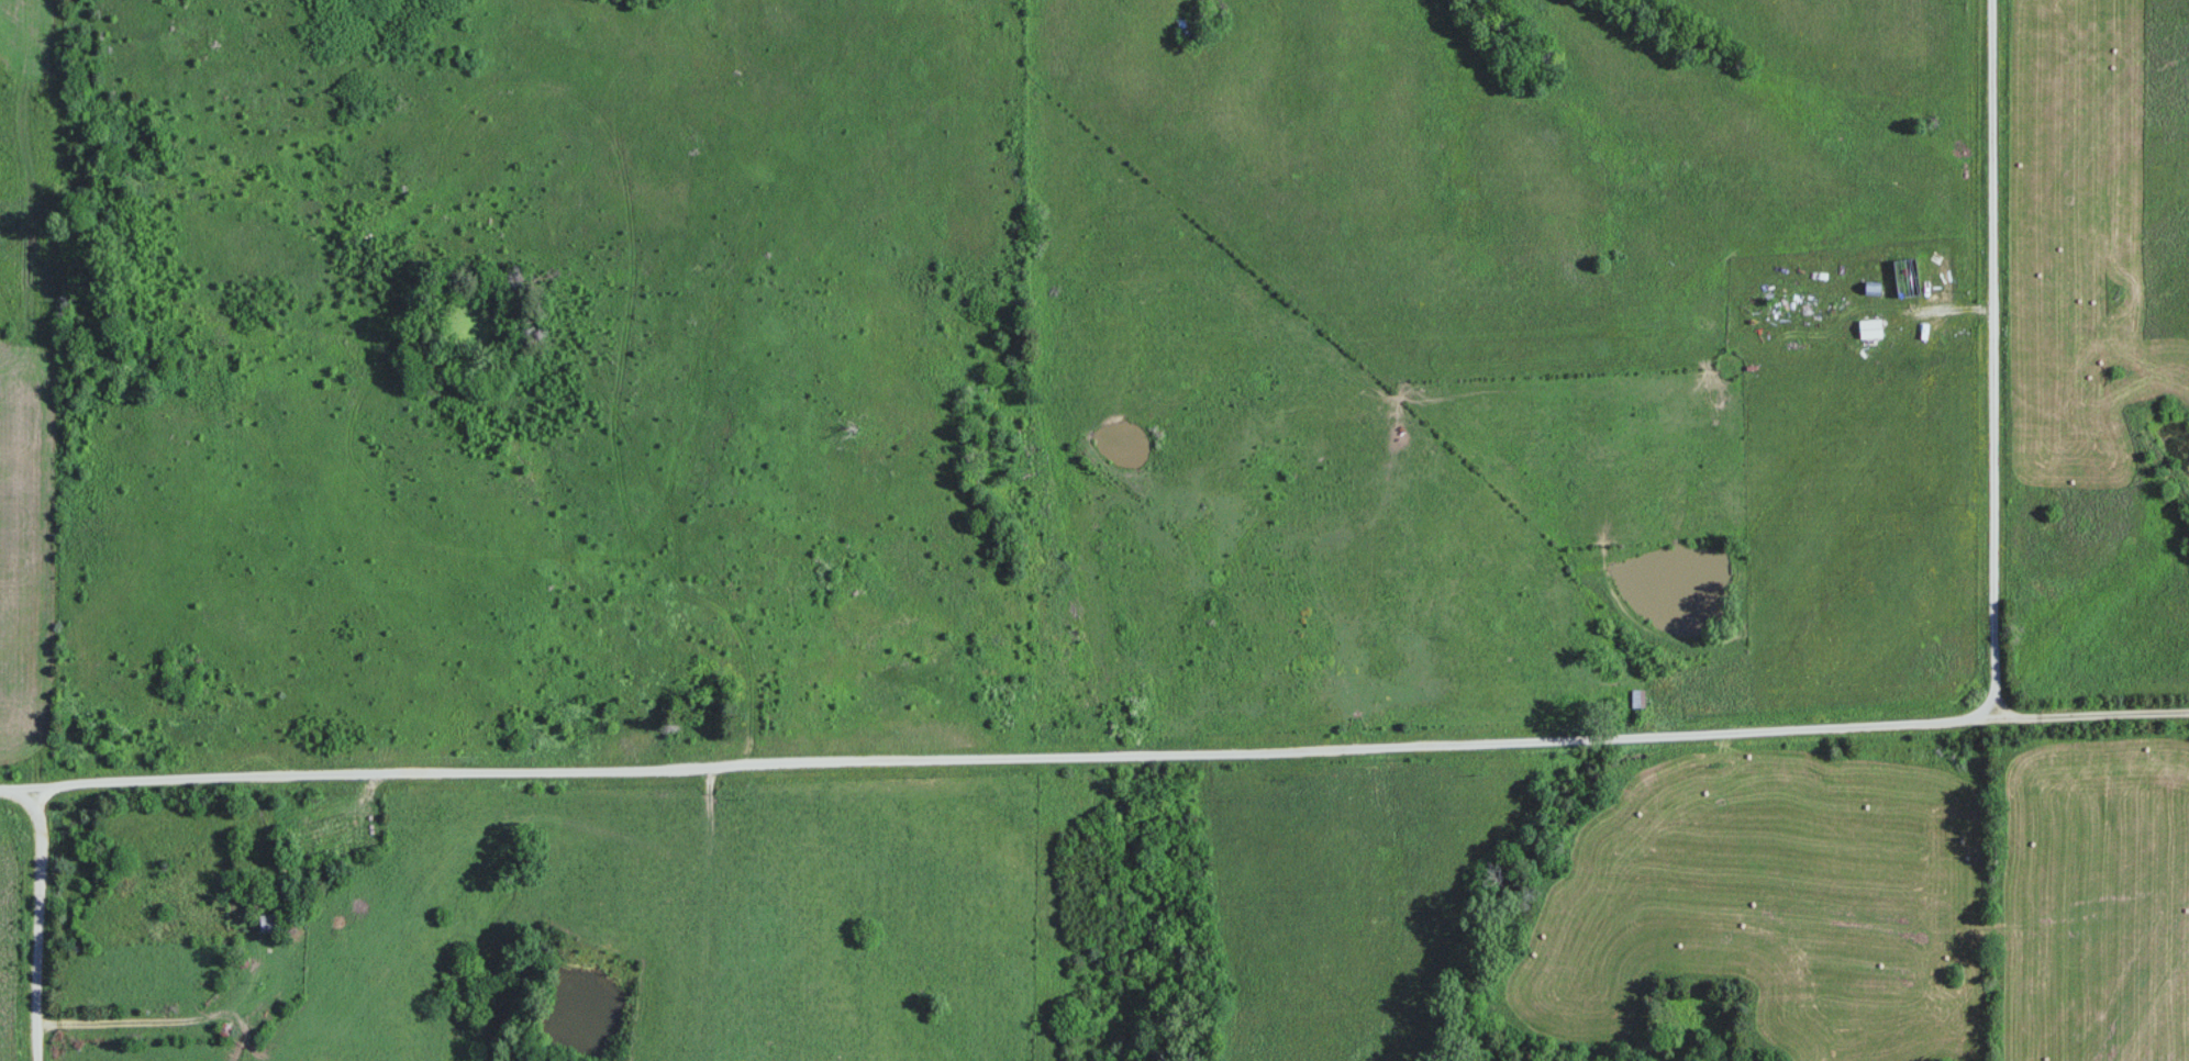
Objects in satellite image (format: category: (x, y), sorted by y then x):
building: (1914, 270)
building: (1873, 333)
road: (1992, 355)
building: (1638, 699)
road: (996, 757)
road: (38, 922)
building: (271, 924)

